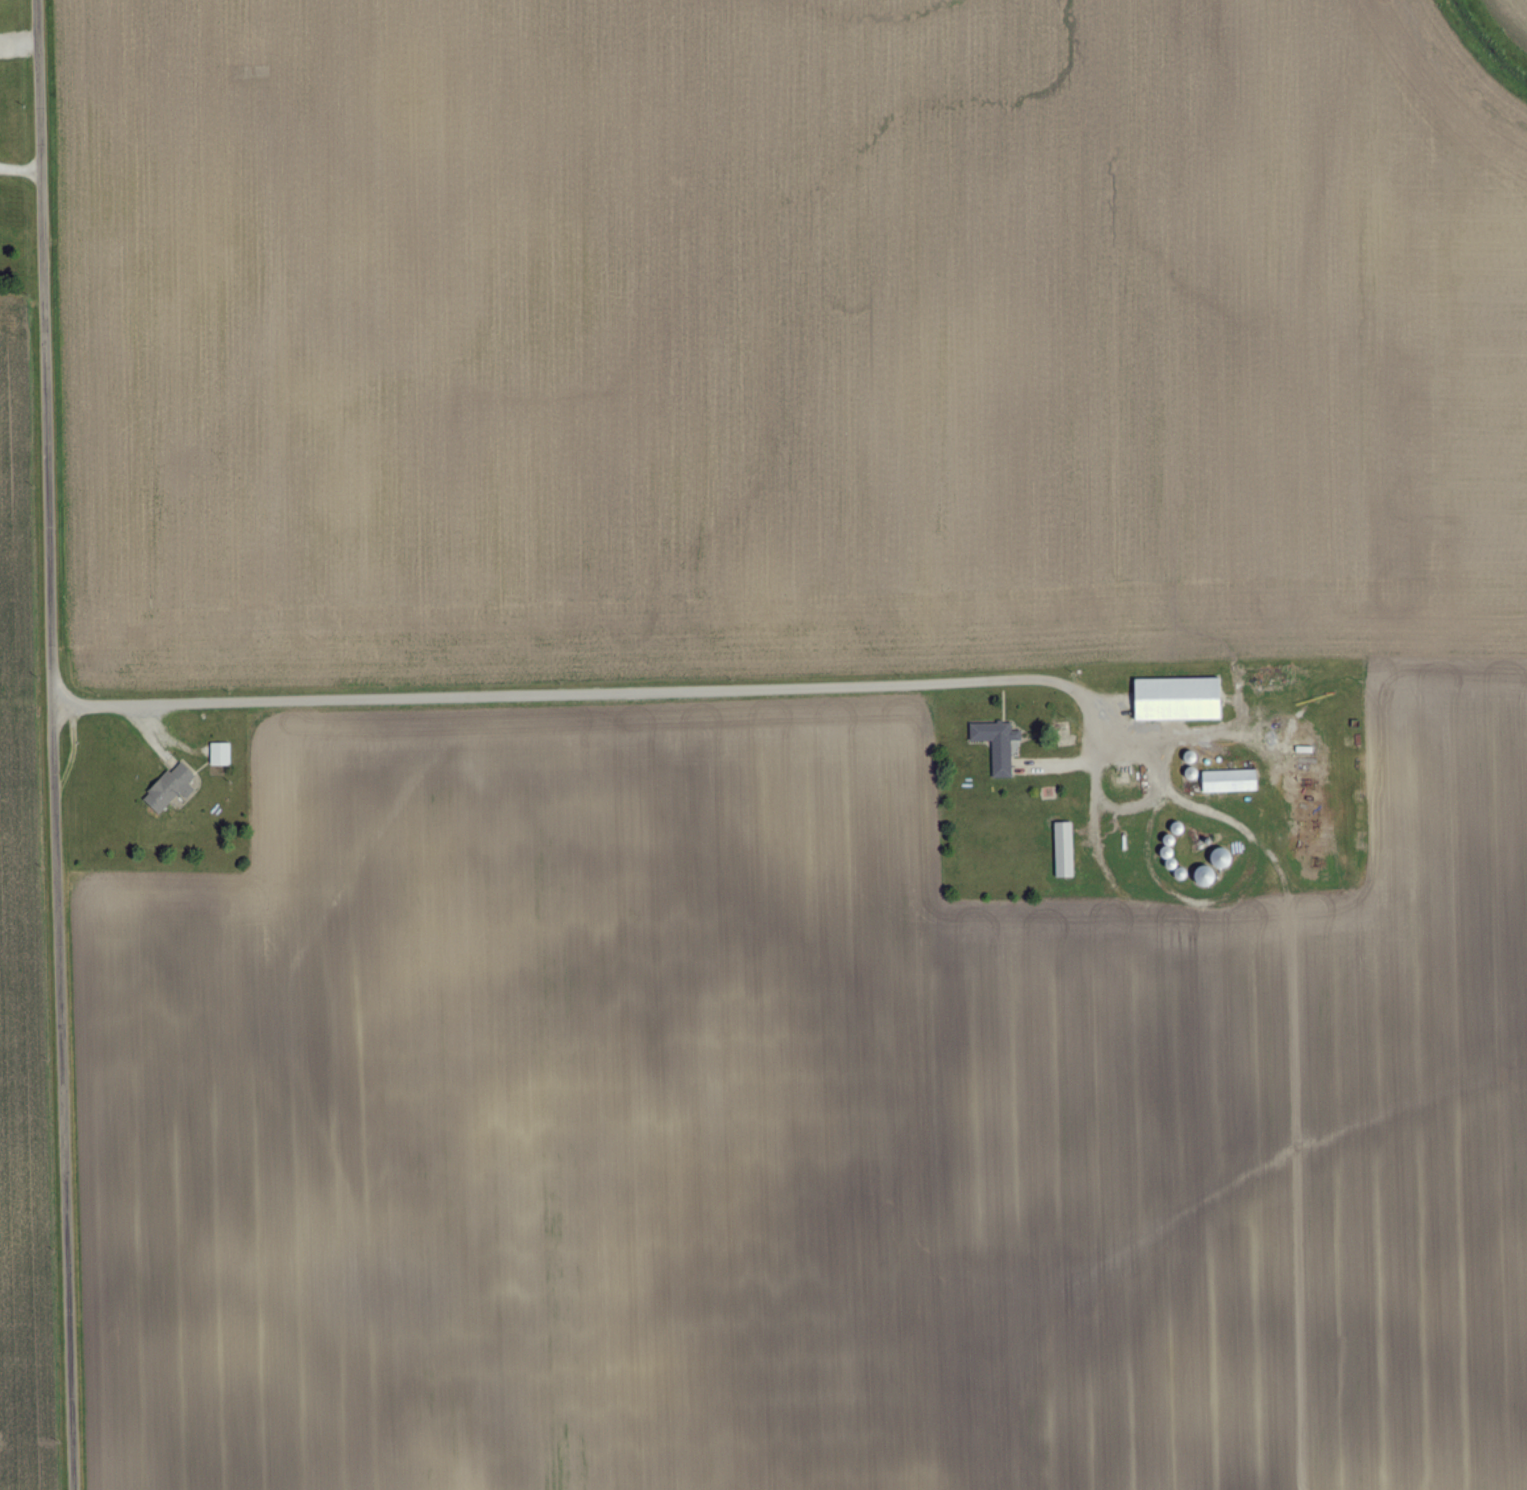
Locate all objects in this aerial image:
crop: (1515, 13)
road: (600, 689)
crop: (793, 742)
road: (54, 745)
building: (999, 747)
building: (222, 756)
building: (1232, 783)
building: (173, 790)
building: (1066, 849)
crop: (23, 964)

